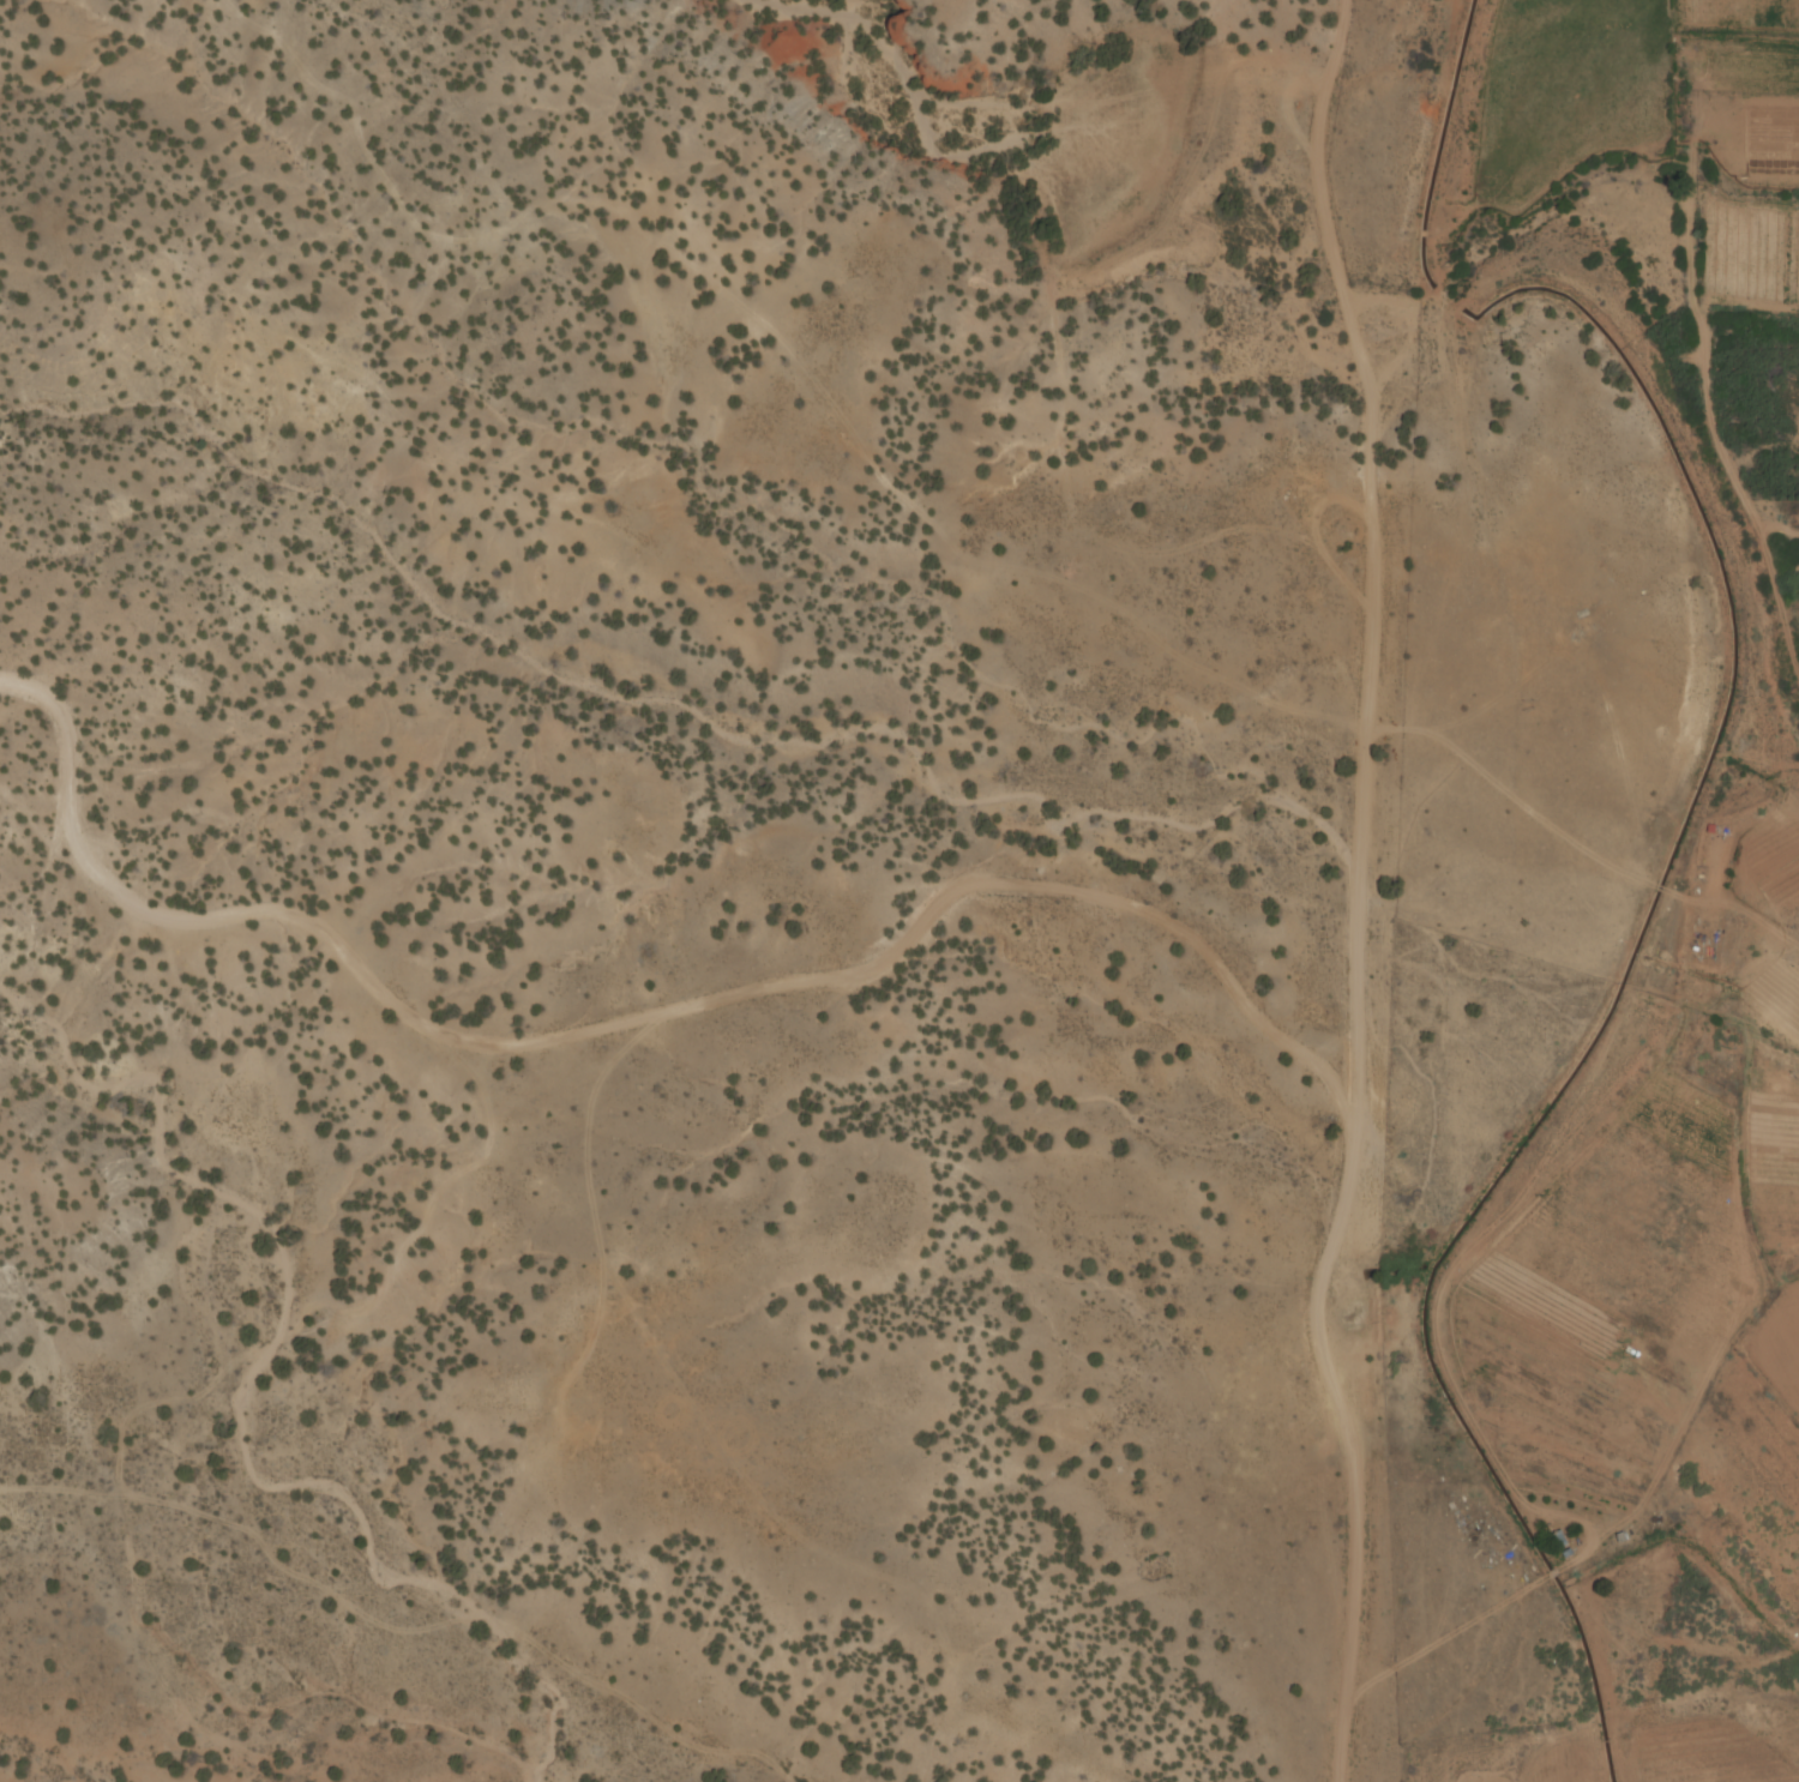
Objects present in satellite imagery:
road: (1729, 398)
road: (1367, 887)

